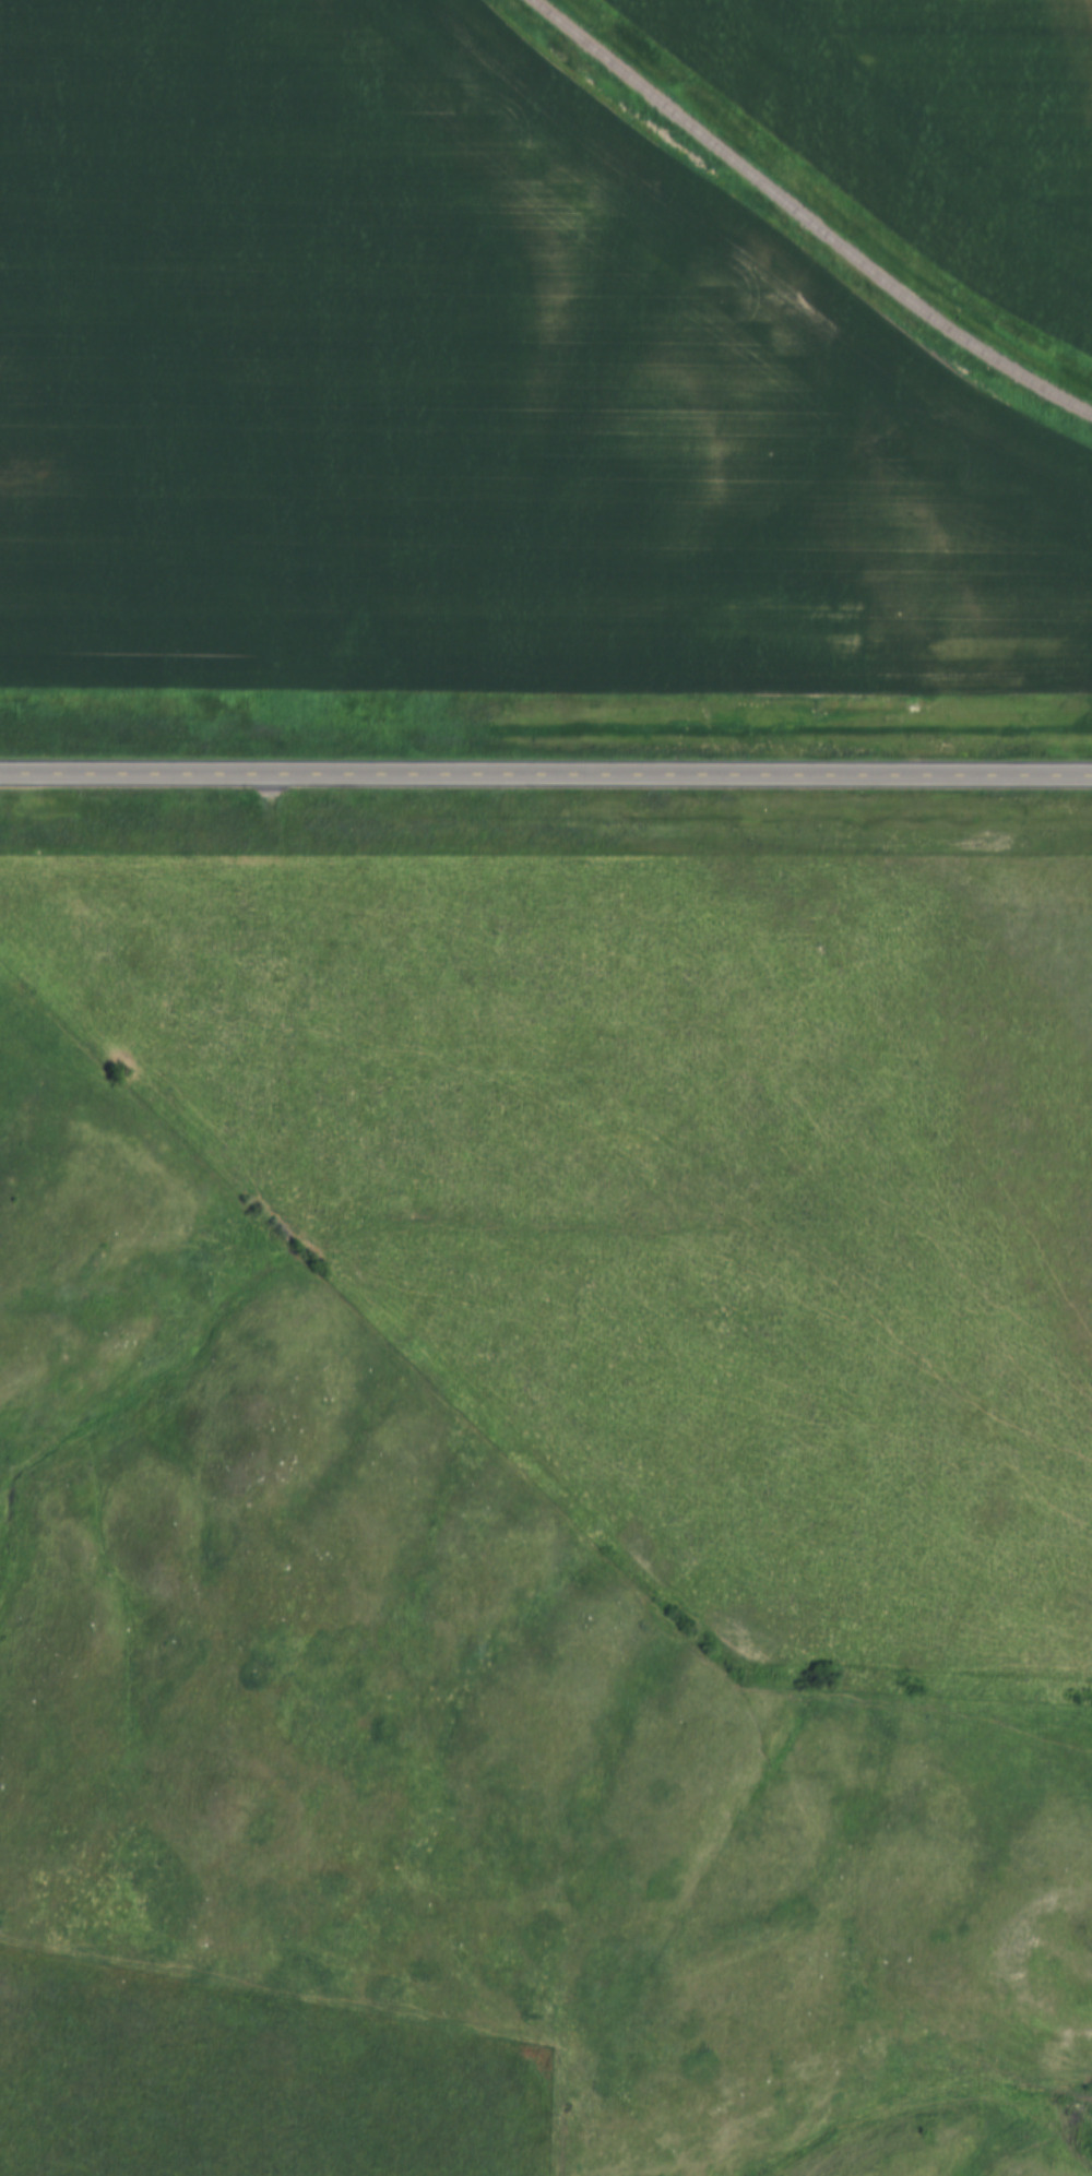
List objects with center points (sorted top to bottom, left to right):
railway: (807, 215)
road: (545, 773)

